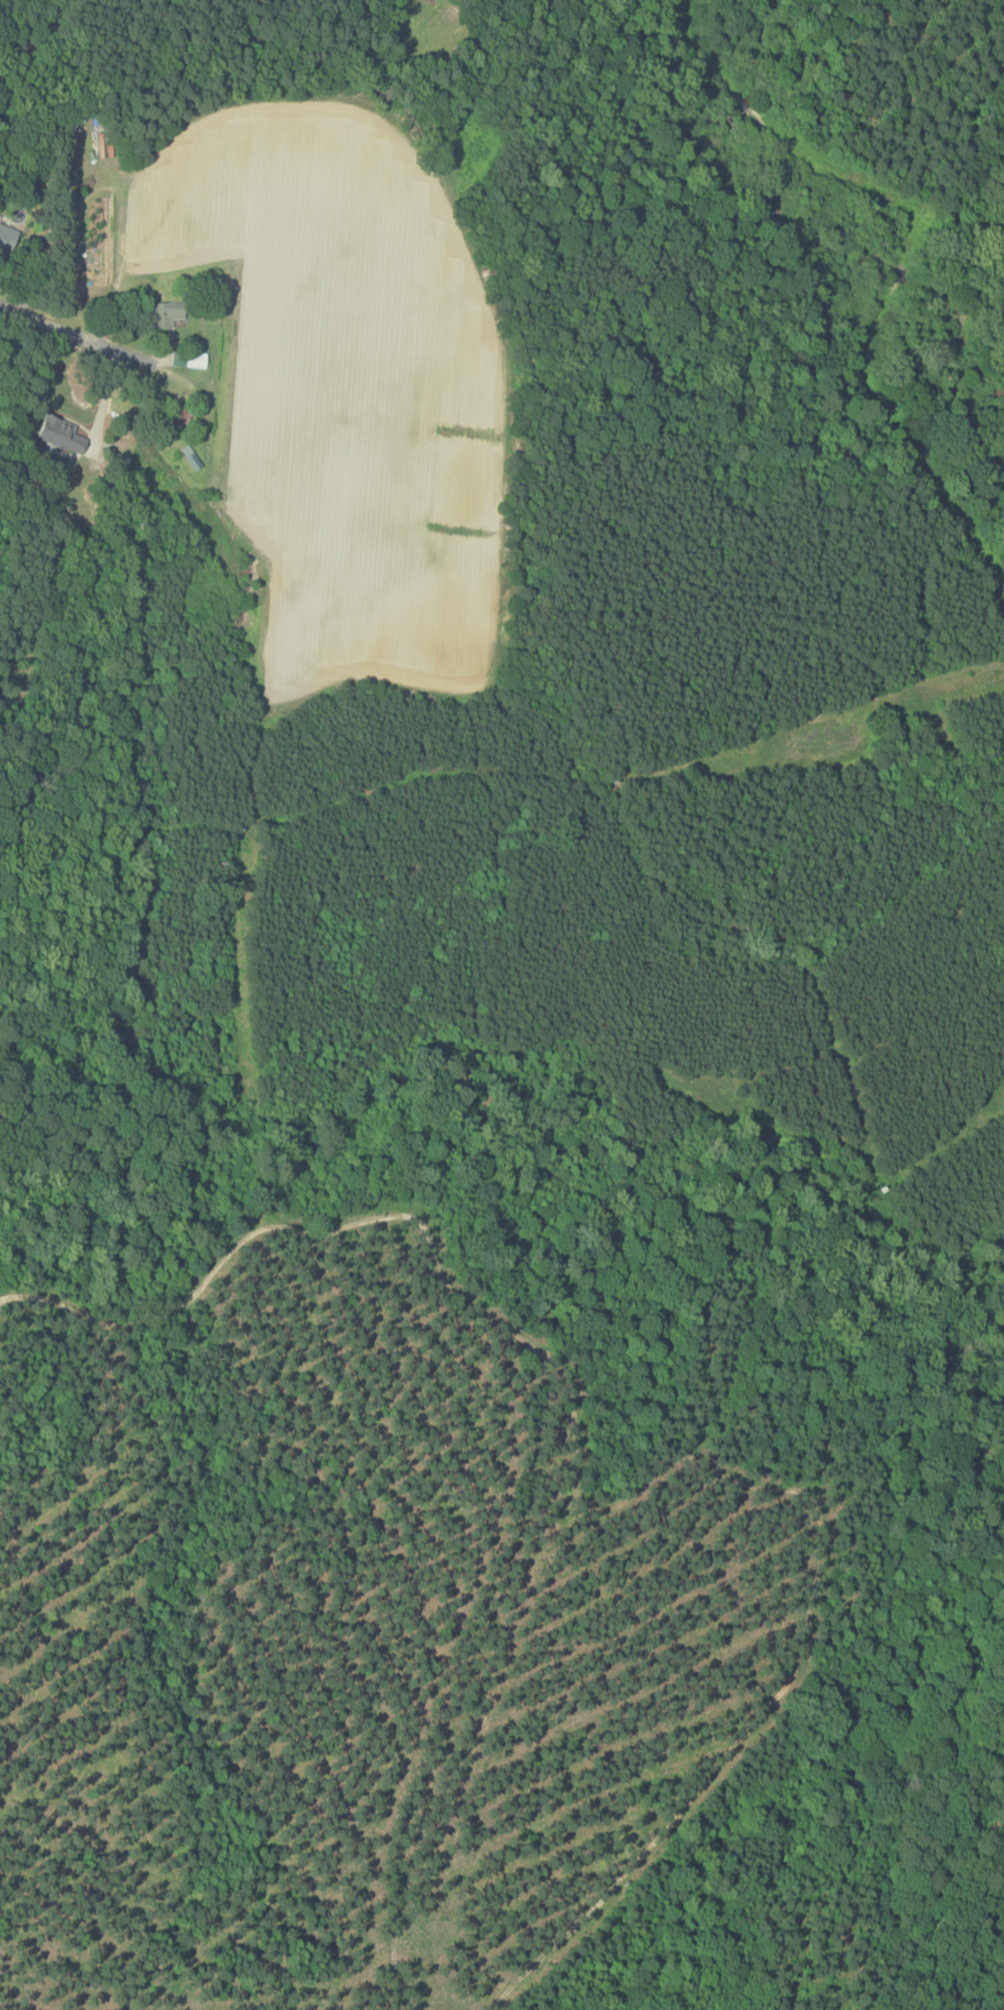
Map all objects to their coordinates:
building: (8, 234)
building: (170, 312)
road: (77, 341)
building: (193, 357)
road: (101, 402)
building: (62, 434)
building: (192, 456)

